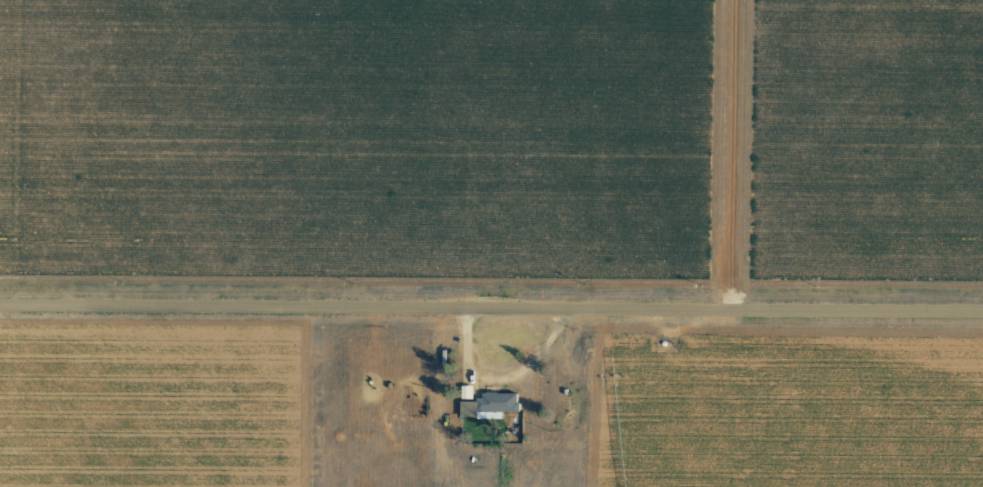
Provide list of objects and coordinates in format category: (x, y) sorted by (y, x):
road: (491, 305)

